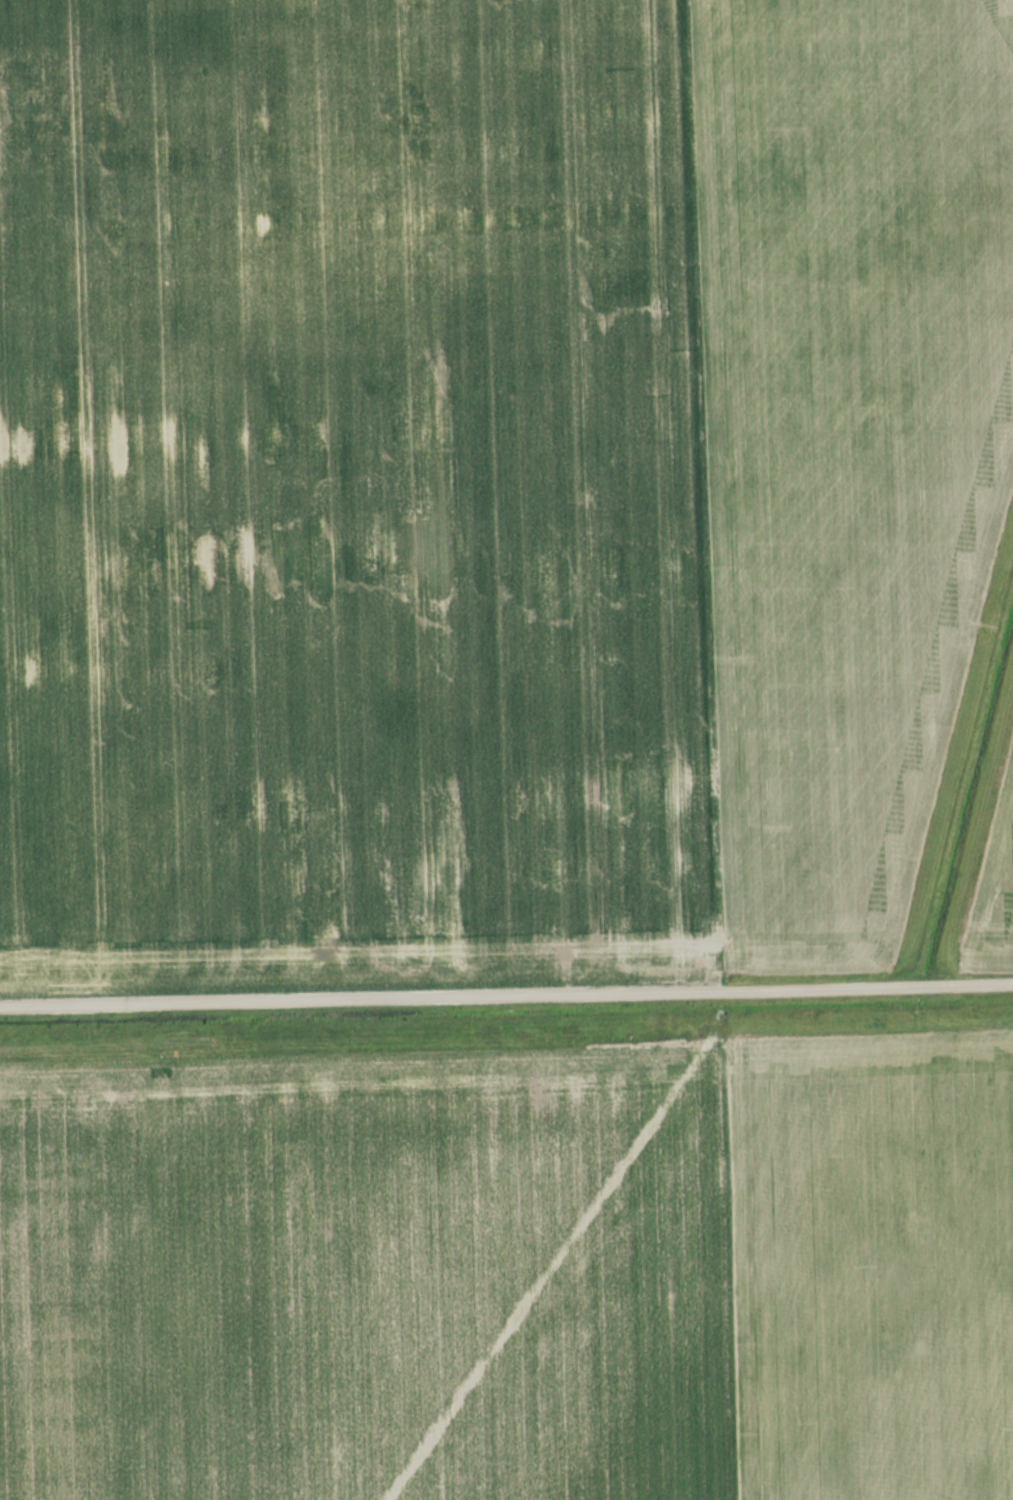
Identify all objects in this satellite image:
crop: (489, 470)
crop: (986, 867)
road: (506, 992)
crop: (886, 1263)
crop: (381, 1269)

